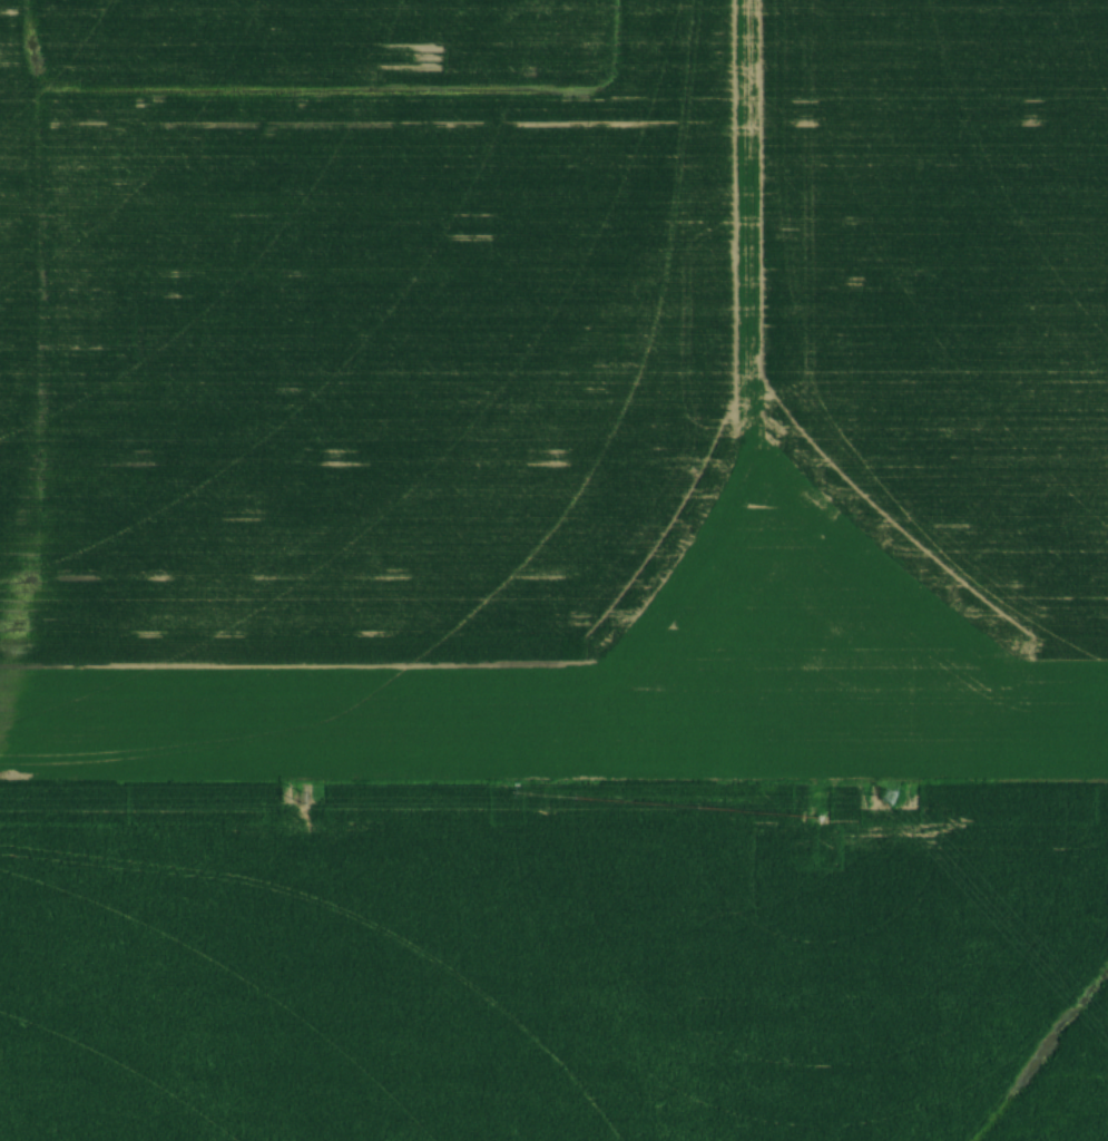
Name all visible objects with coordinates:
power tower: (300, 799)
power tower: (891, 801)

